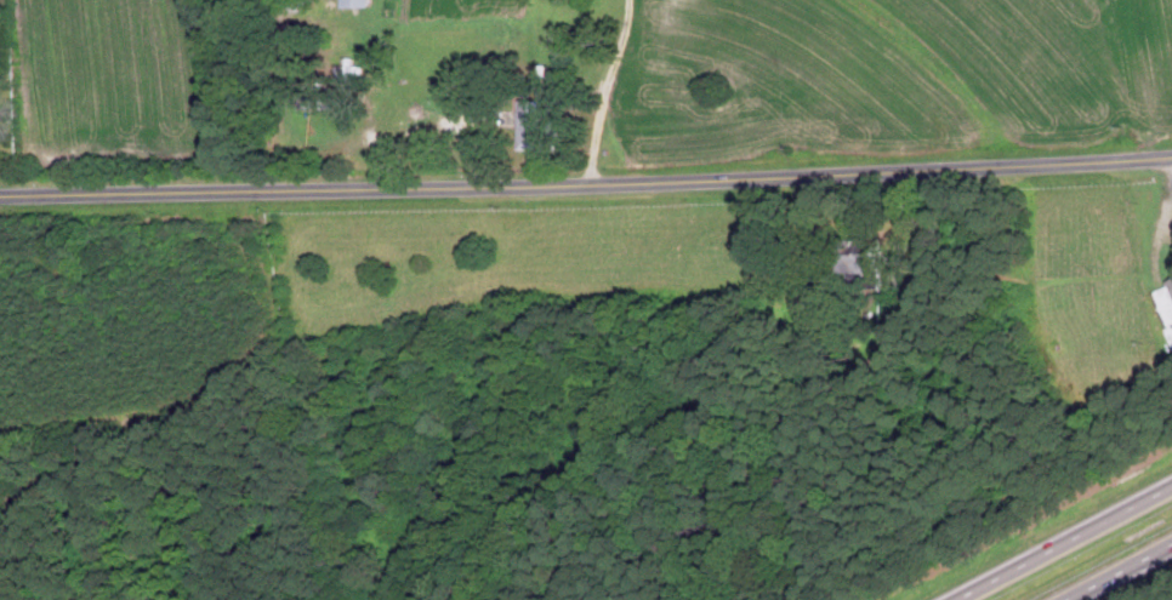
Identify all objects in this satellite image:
building: (358, 2)
building: (352, 69)
road: (603, 87)
building: (326, 93)
building: (534, 124)
road: (586, 178)
road: (1064, 543)
road: (1120, 572)

